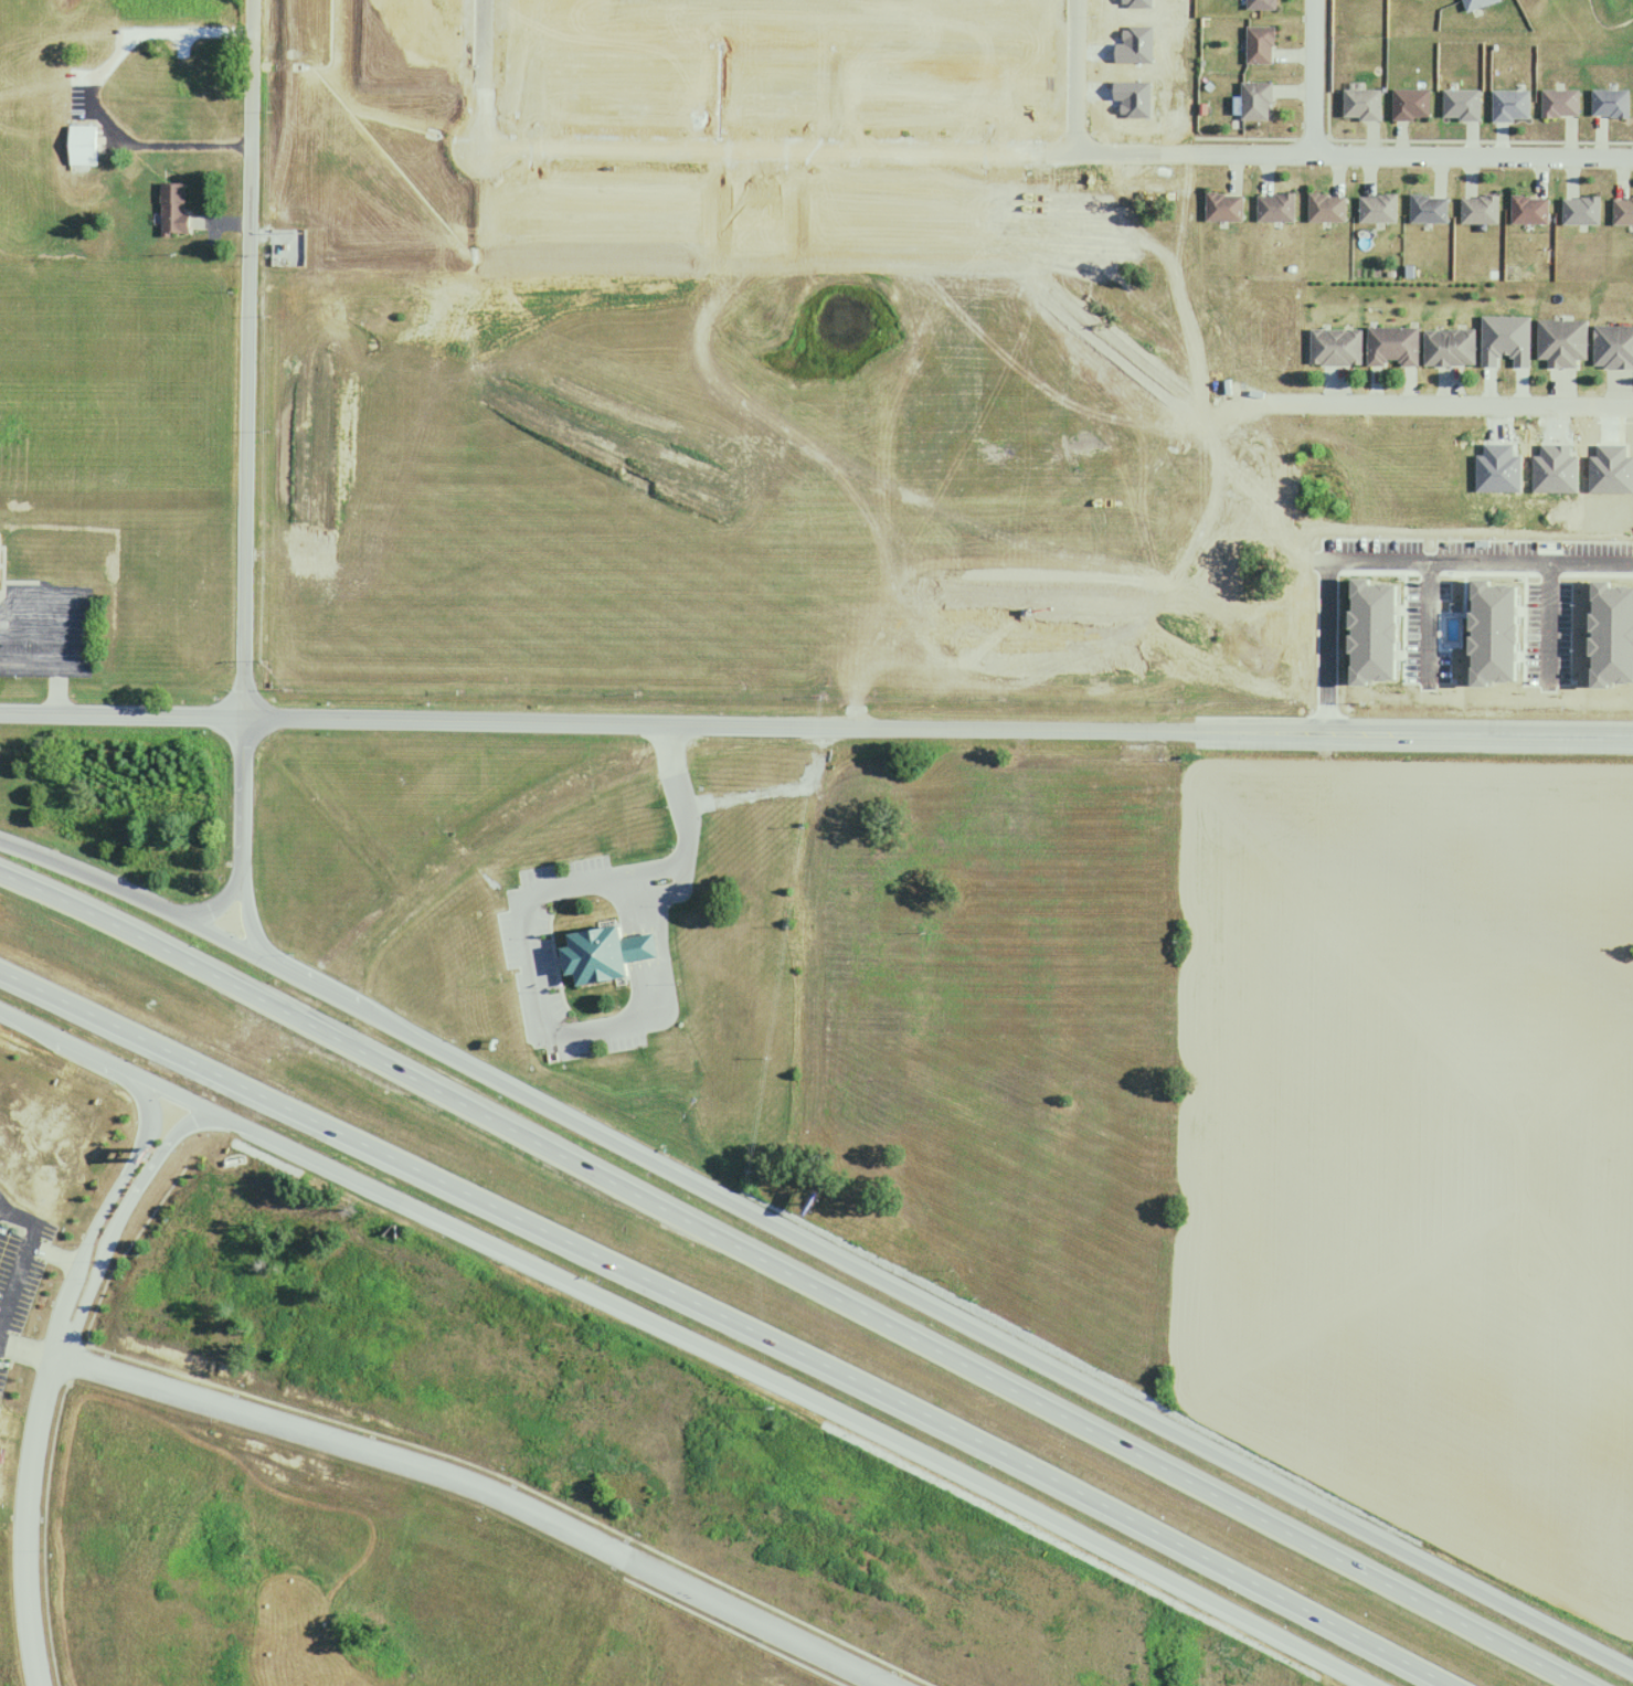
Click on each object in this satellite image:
building: (1475, 3)
building: (1259, 4)
building: (1259, 45)
road: (1070, 74)
road: (1311, 76)
building: (1255, 100)
building: (1558, 104)
building: (1609, 104)
building: (1360, 105)
building: (1410, 105)
building: (1460, 106)
building: (1508, 106)
building: (82, 146)
road: (818, 147)
road: (1393, 153)
building: (1222, 208)
building: (1274, 208)
building: (1325, 208)
building: (172, 209)
building: (1377, 209)
building: (1427, 210)
building: (1477, 211)
building: (1527, 211)
building: (1579, 211)
building: (1621, 212)
building: (1560, 343)
building: (1391, 347)
building: (1612, 347)
building: (1335, 348)
building: (1449, 348)
road: (250, 358)
road: (1452, 403)
road: (1393, 555)
road: (1550, 613)
road: (1428, 615)
road: (123, 713)
road: (536, 720)
road: (1229, 731)
road: (669, 765)
road: (247, 814)
road: (106, 884)
road: (534, 891)
road: (233, 929)
road: (251, 937)
building: (604, 955)
road: (81, 1056)
road: (170, 1120)
road: (195, 1130)
road: (35, 1249)
road: (796, 1272)
road: (14, 1281)
road: (922, 1304)
road: (732, 1315)
road: (32, 1350)
road: (773, 1380)
road: (52, 1404)
road: (487, 1494)

